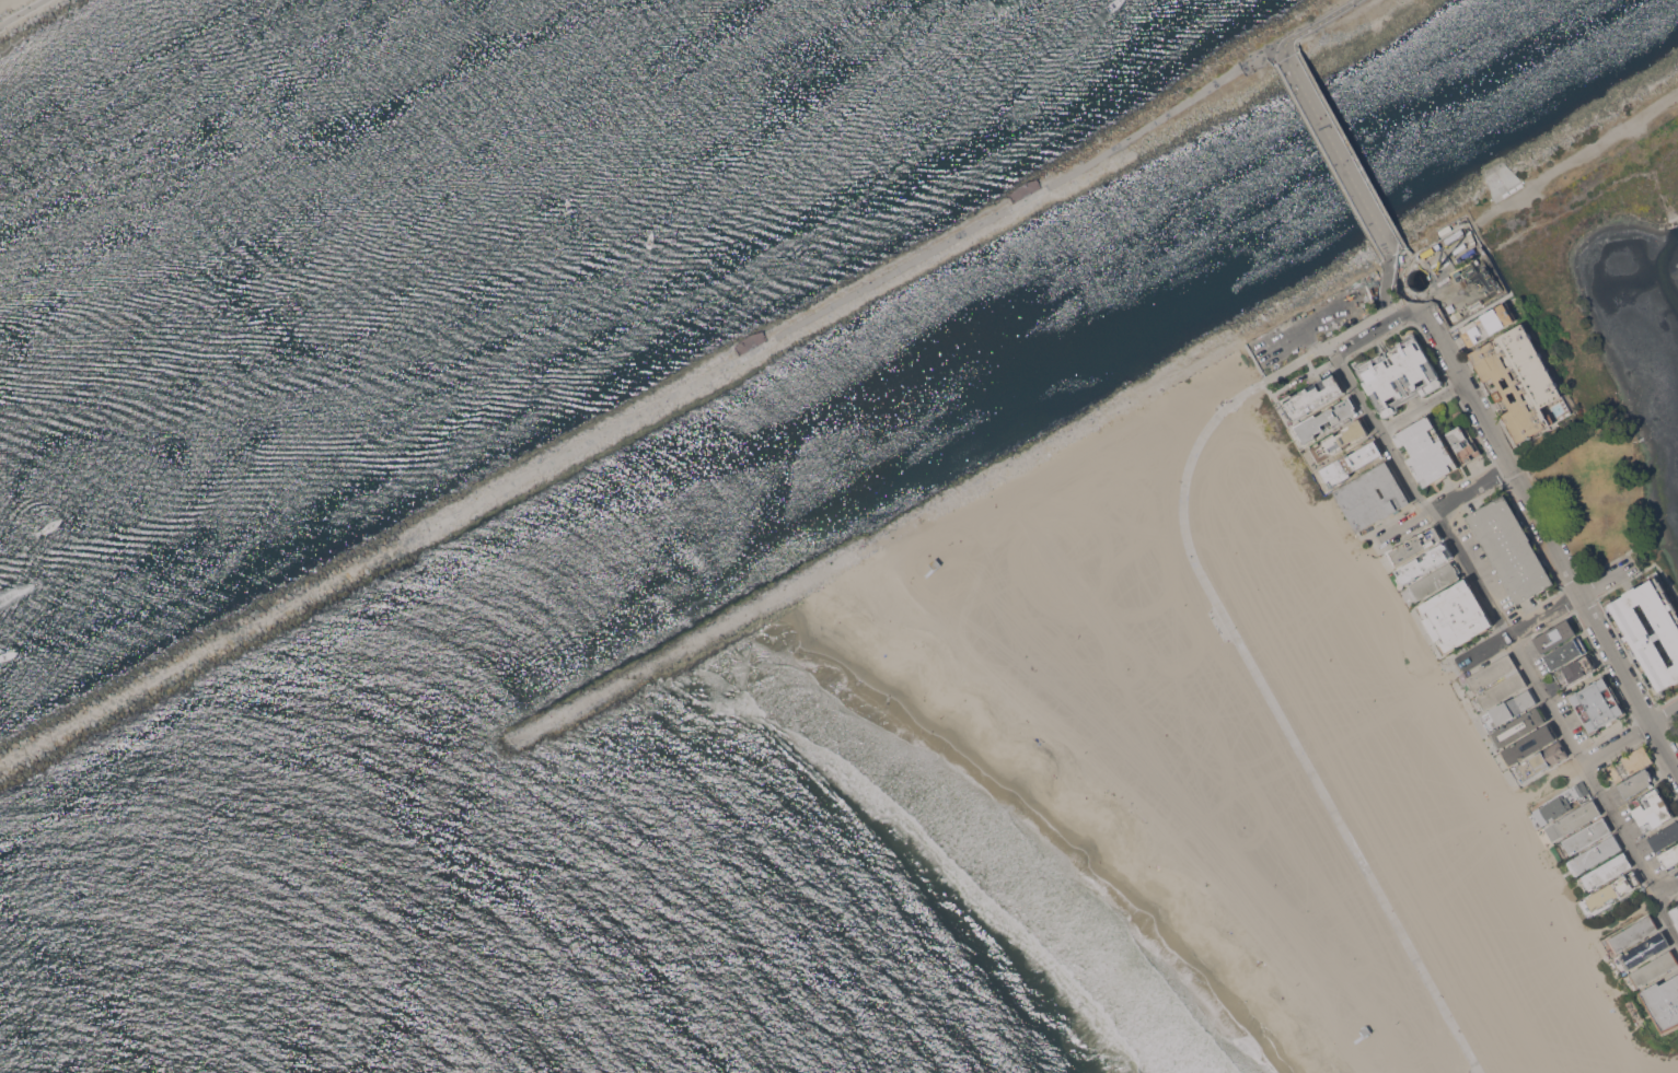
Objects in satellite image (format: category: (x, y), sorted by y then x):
road: (21, 12)
road: (1311, 24)
road: (1338, 155)
road: (1574, 161)
road: (1588, 196)
parking lot: (1453, 245)
road: (1440, 254)
road: (1476, 264)
road: (848, 299)
road: (1390, 313)
road: (1399, 315)
road: (1329, 318)
parking lot: (1315, 320)
building: (1488, 324)
road: (1400, 325)
road: (1347, 329)
park: (1609, 345)
road: (1324, 351)
building: (1399, 373)
building: (1519, 378)
road: (1293, 382)
building: (1312, 396)
road: (1420, 406)
building: (1326, 419)
building: (1340, 440)
building: (1463, 443)
building: (1426, 451)
building: (1351, 463)
building: (1372, 495)
road: (1444, 501)
road: (1548, 538)
building: (1414, 546)
building: (1509, 548)
building: (1425, 562)
building: (935, 563)
building: (1434, 581)
road: (1543, 613)
building: (1455, 615)
building: (1635, 632)
building: (1555, 634)
road: (1512, 642)
building: (1565, 653)
building: (1575, 670)
building: (1493, 672)
building: (1502, 689)
pier: (594, 701)
building: (1597, 704)
building: (1511, 708)
road: (1282, 724)
building: (1519, 726)
park: (1675, 726)
parking lot: (1677, 732)
road: (1630, 735)
building: (1529, 744)
building: (1541, 760)
building: (1630, 762)
road: (1555, 780)
building: (1636, 782)
building: (1561, 802)
building: (1652, 809)
building: (1576, 818)
park: (1466, 832)
building: (1586, 836)
building: (1665, 836)
building: (1595, 854)
building: (1670, 856)
building: (1607, 871)
road: (1667, 889)
building: (1613, 890)
road: (1628, 912)
building: (1675, 913)
building: (1634, 933)
building: (1644, 950)
building: (1654, 968)
building: (1663, 1002)
building: (1365, 1031)

